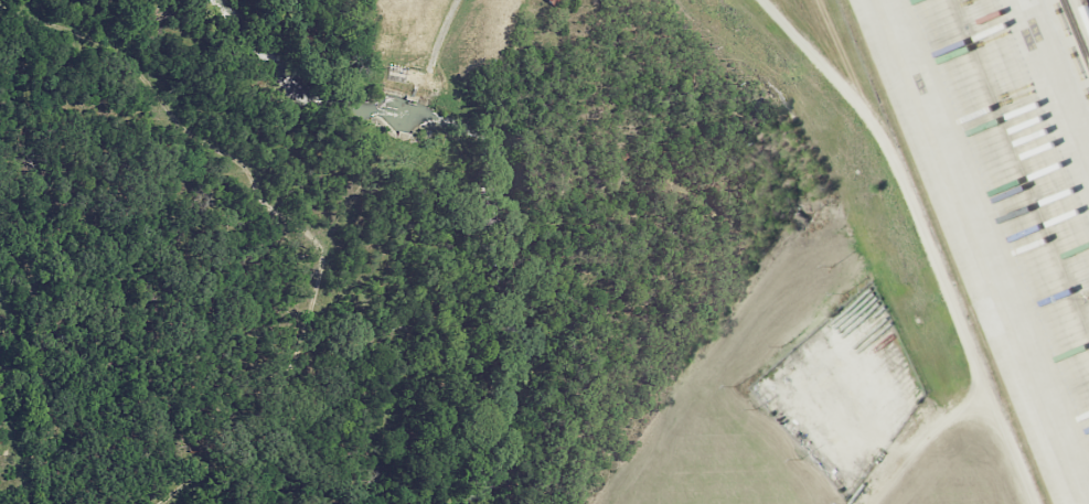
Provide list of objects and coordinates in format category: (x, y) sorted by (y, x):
railway: (1086, 6)
railway: (1076, 30)
road: (899, 173)
river: (483, 175)
road: (929, 442)
road: (181, 486)

